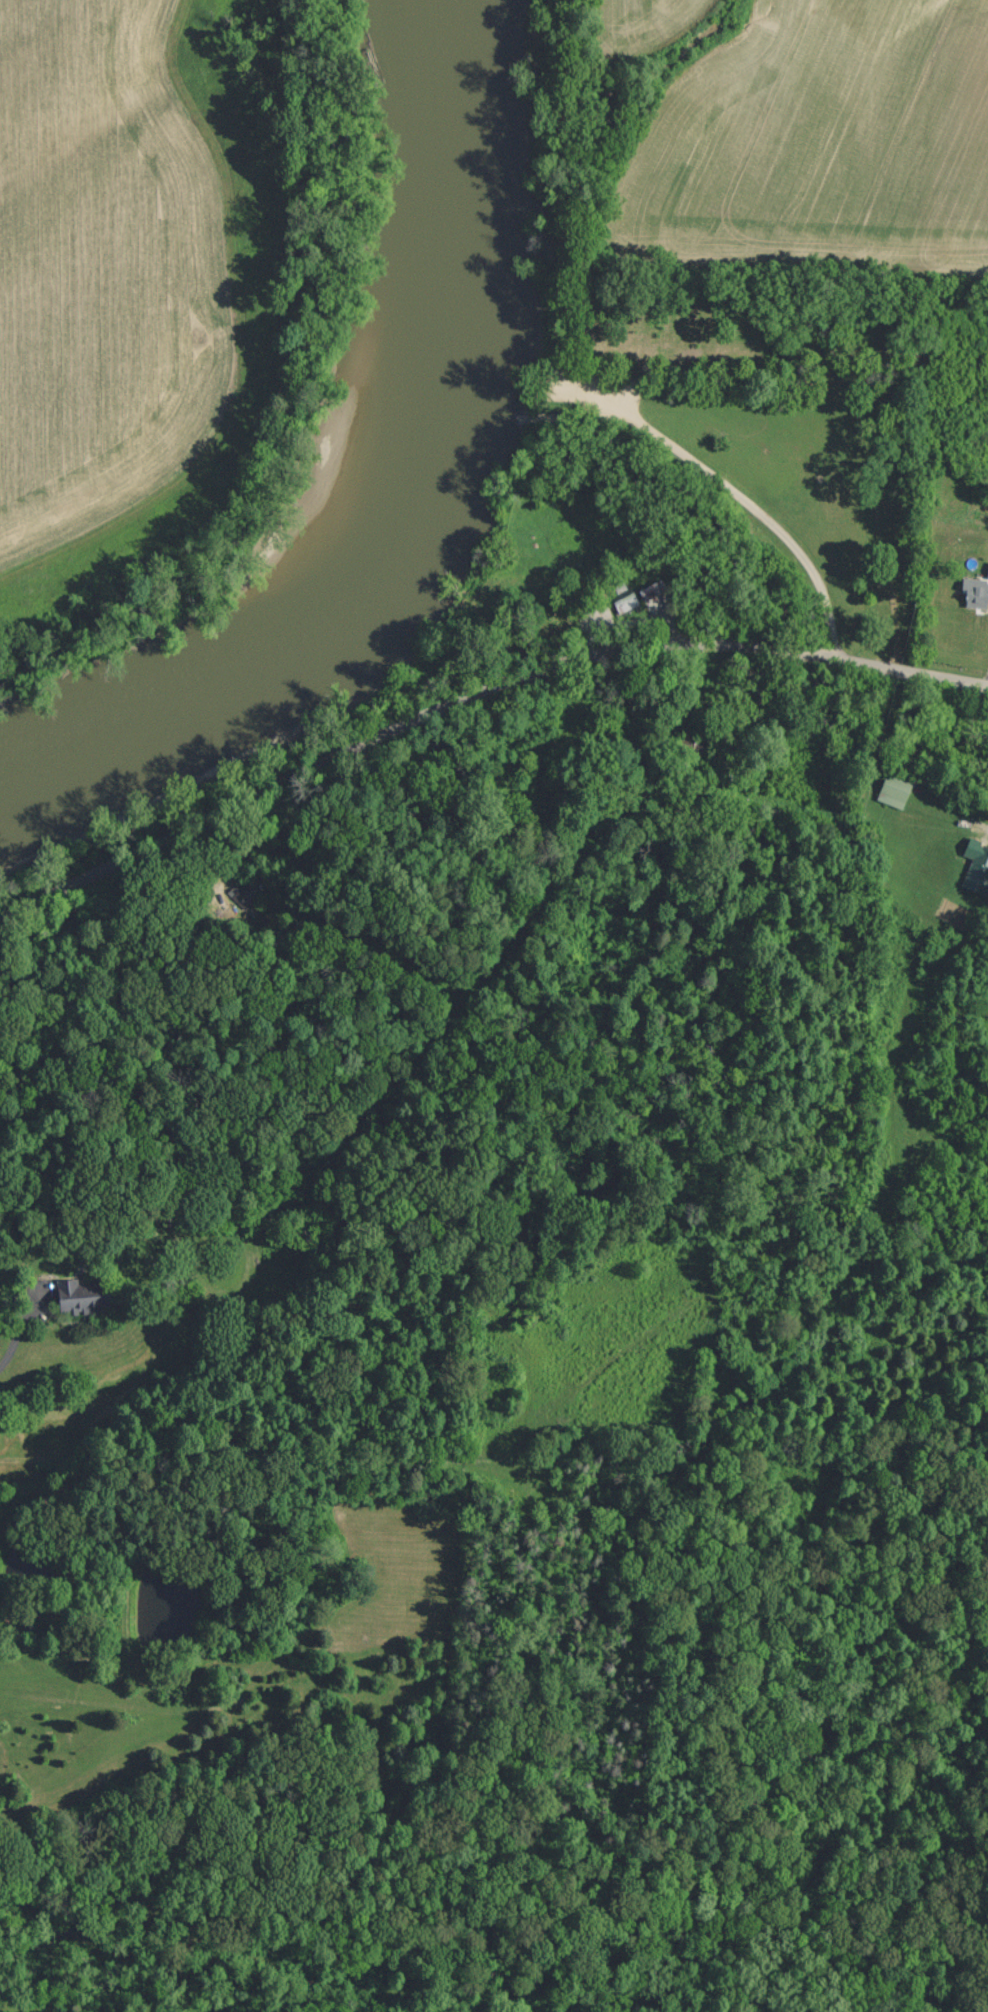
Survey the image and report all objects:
road: (727, 483)
river: (413, 504)
building: (975, 590)
building: (625, 601)
road: (474, 689)
building: (893, 790)
building: (976, 867)
building: (242, 893)
building: (81, 1297)
road: (13, 1336)

